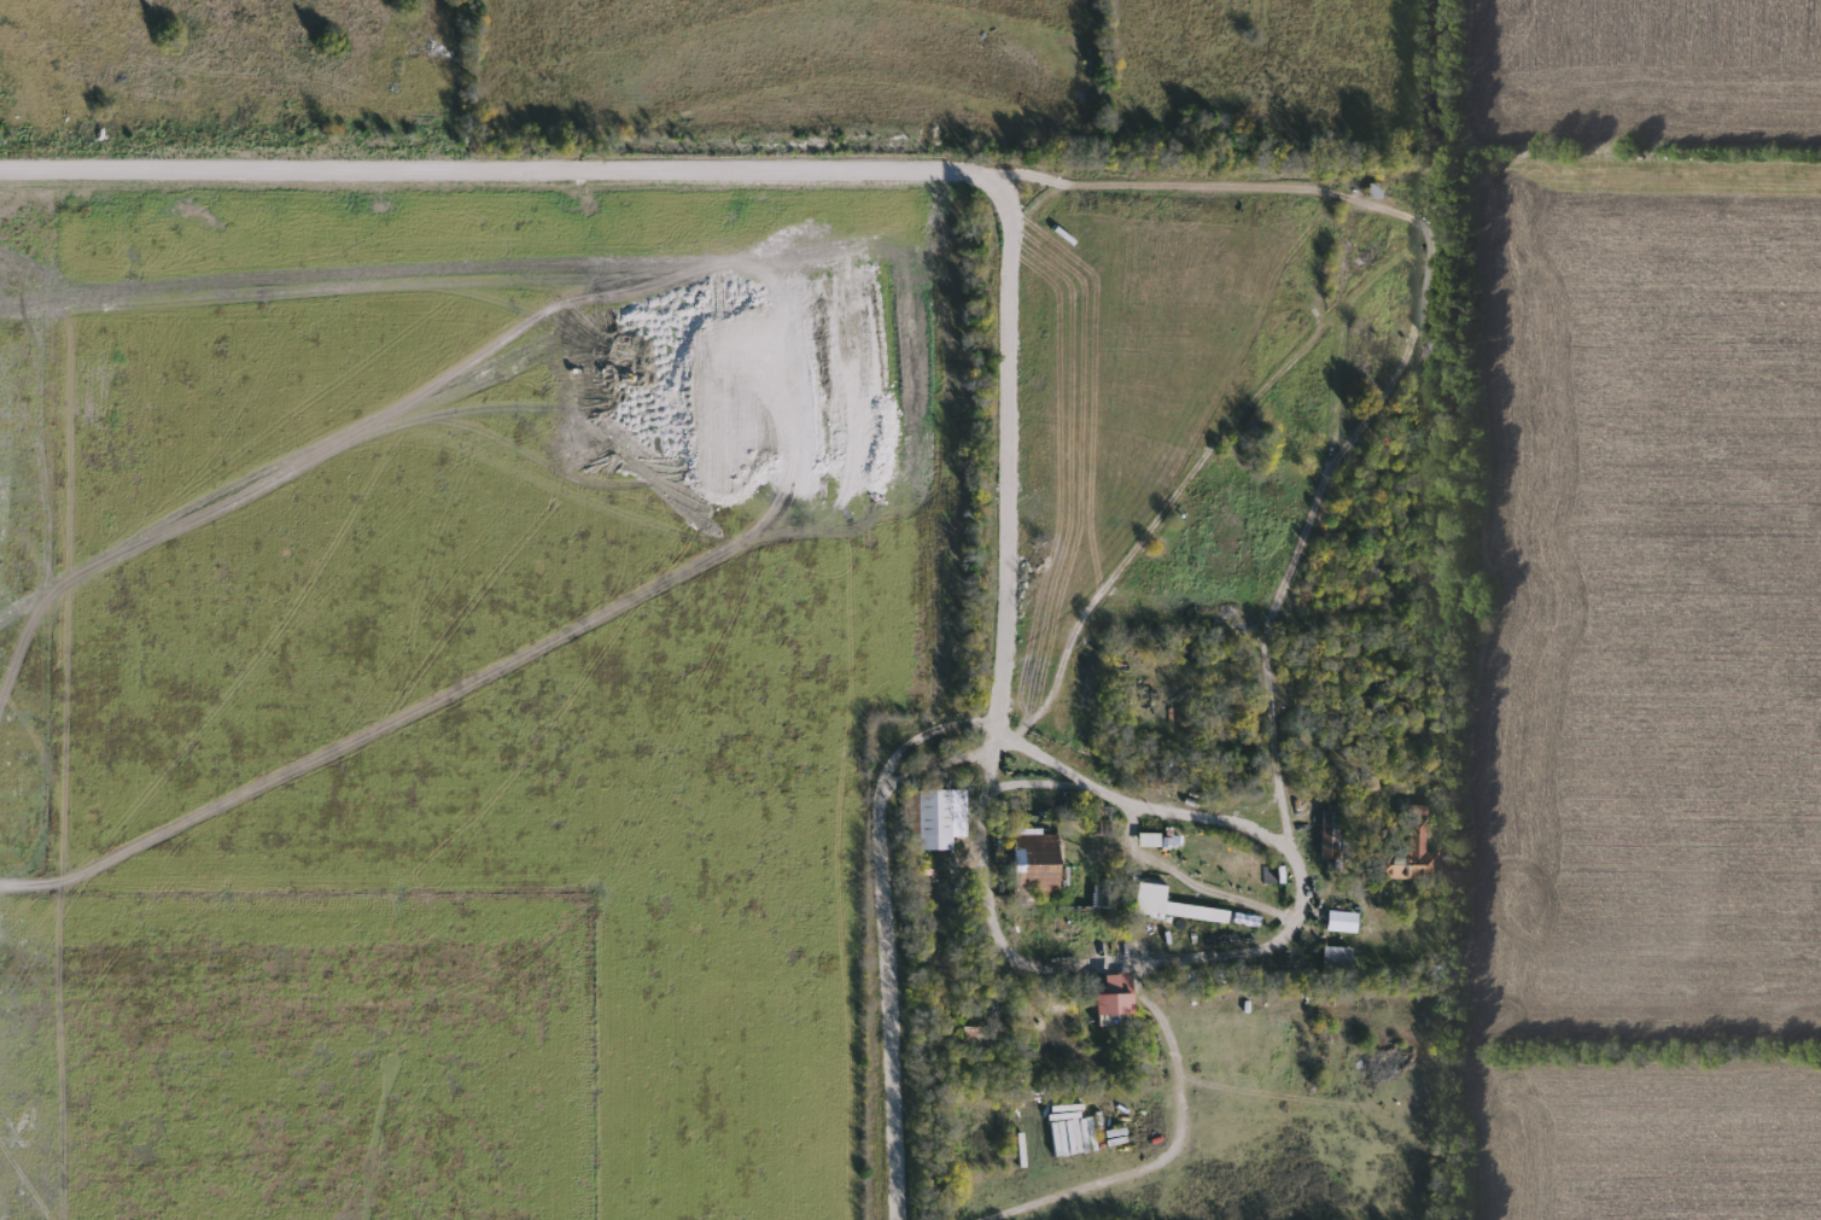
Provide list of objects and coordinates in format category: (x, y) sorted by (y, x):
road: (478, 167)
building: (1377, 191)
road: (1004, 272)
road: (1189, 474)
road: (1443, 700)
road: (1277, 752)
road: (1086, 781)
building: (936, 821)
building: (1333, 835)
building: (1151, 839)
road: (1285, 850)
building: (1409, 851)
building: (1035, 862)
building: (1175, 905)
building: (1344, 921)
road: (883, 951)
road: (1039, 959)
building: (1338, 962)
building: (1116, 996)
road: (1155, 1143)

